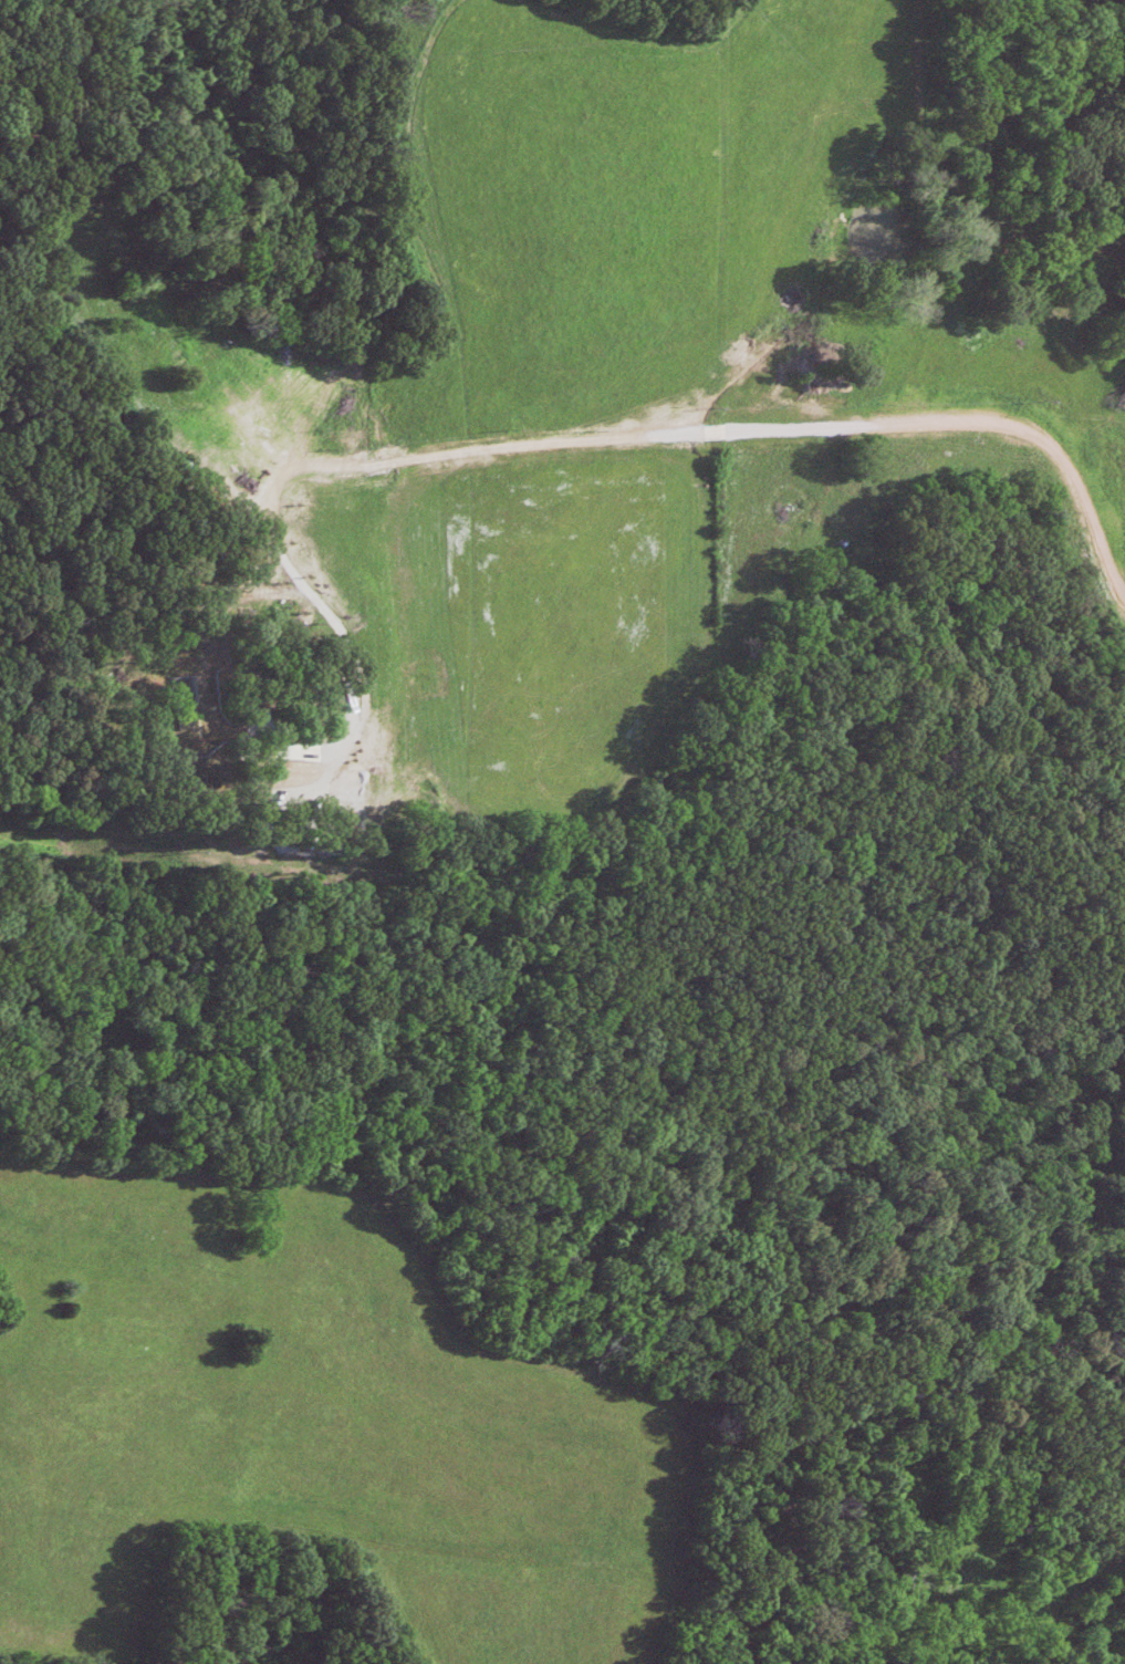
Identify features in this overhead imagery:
road: (760, 430)

